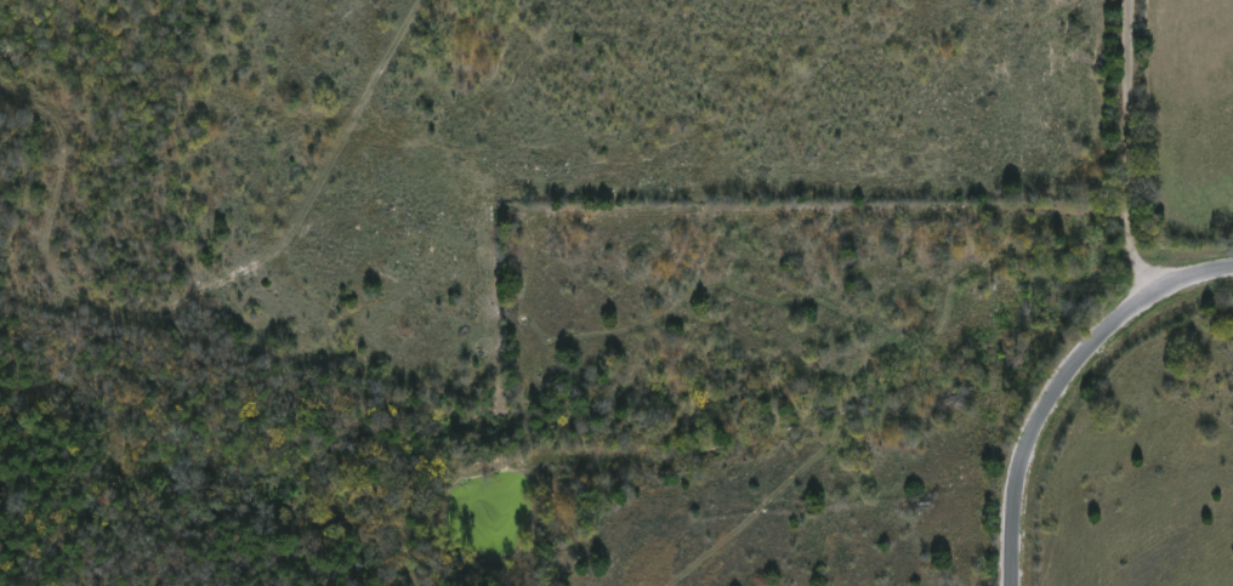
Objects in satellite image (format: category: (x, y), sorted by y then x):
road: (1126, 154)
road: (1184, 284)
road: (1036, 427)

